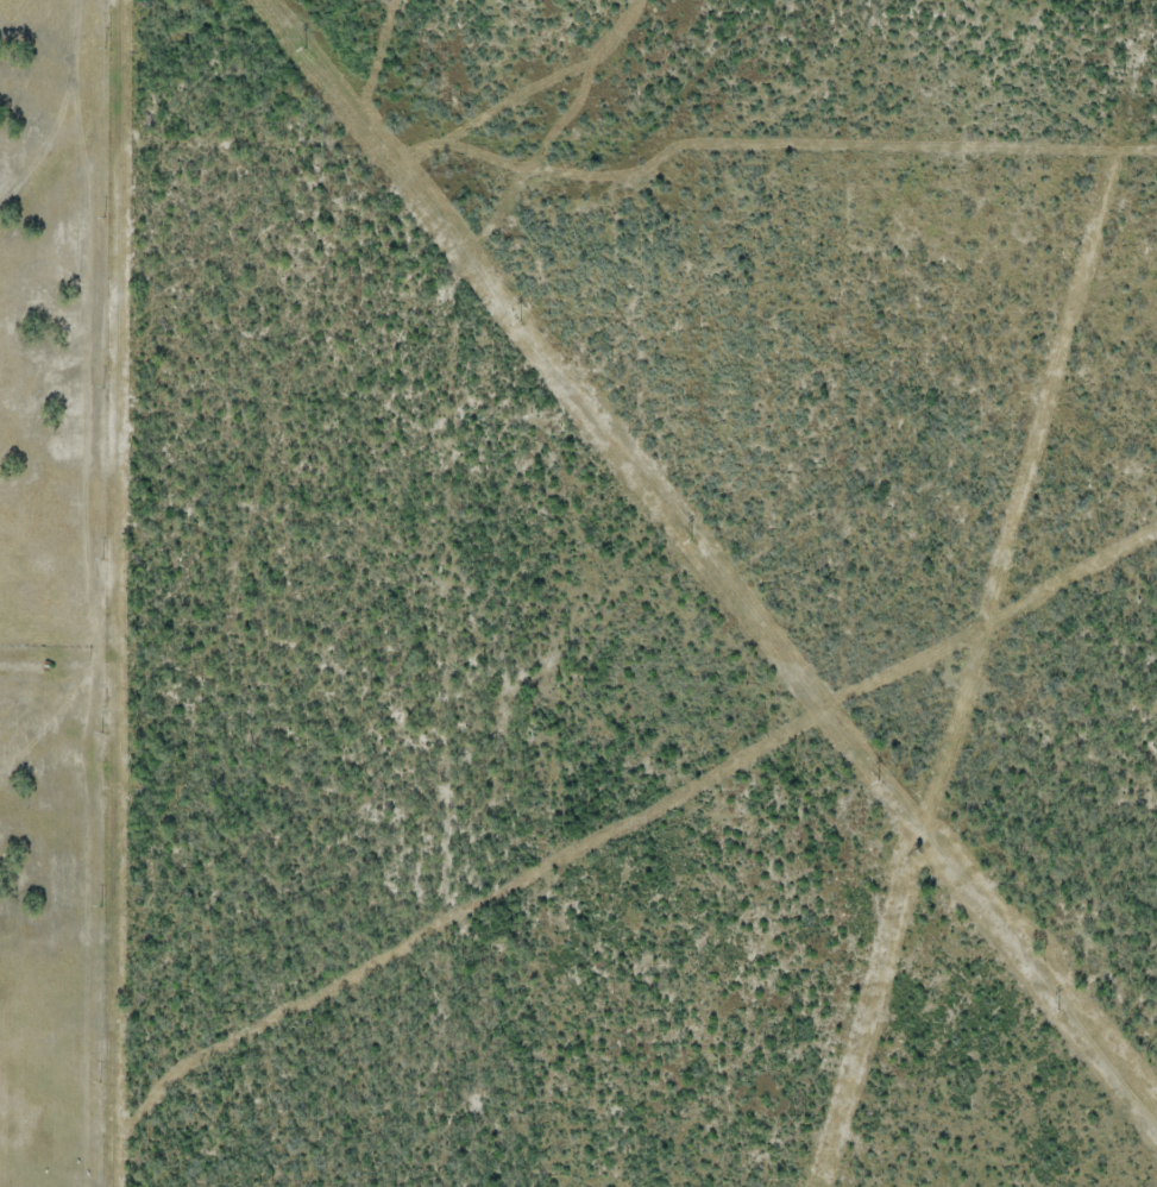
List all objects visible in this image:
power tower: (304, 48)
power tower: (520, 321)
power tower: (690, 539)
power tower: (880, 781)
power tower: (1059, 1010)

